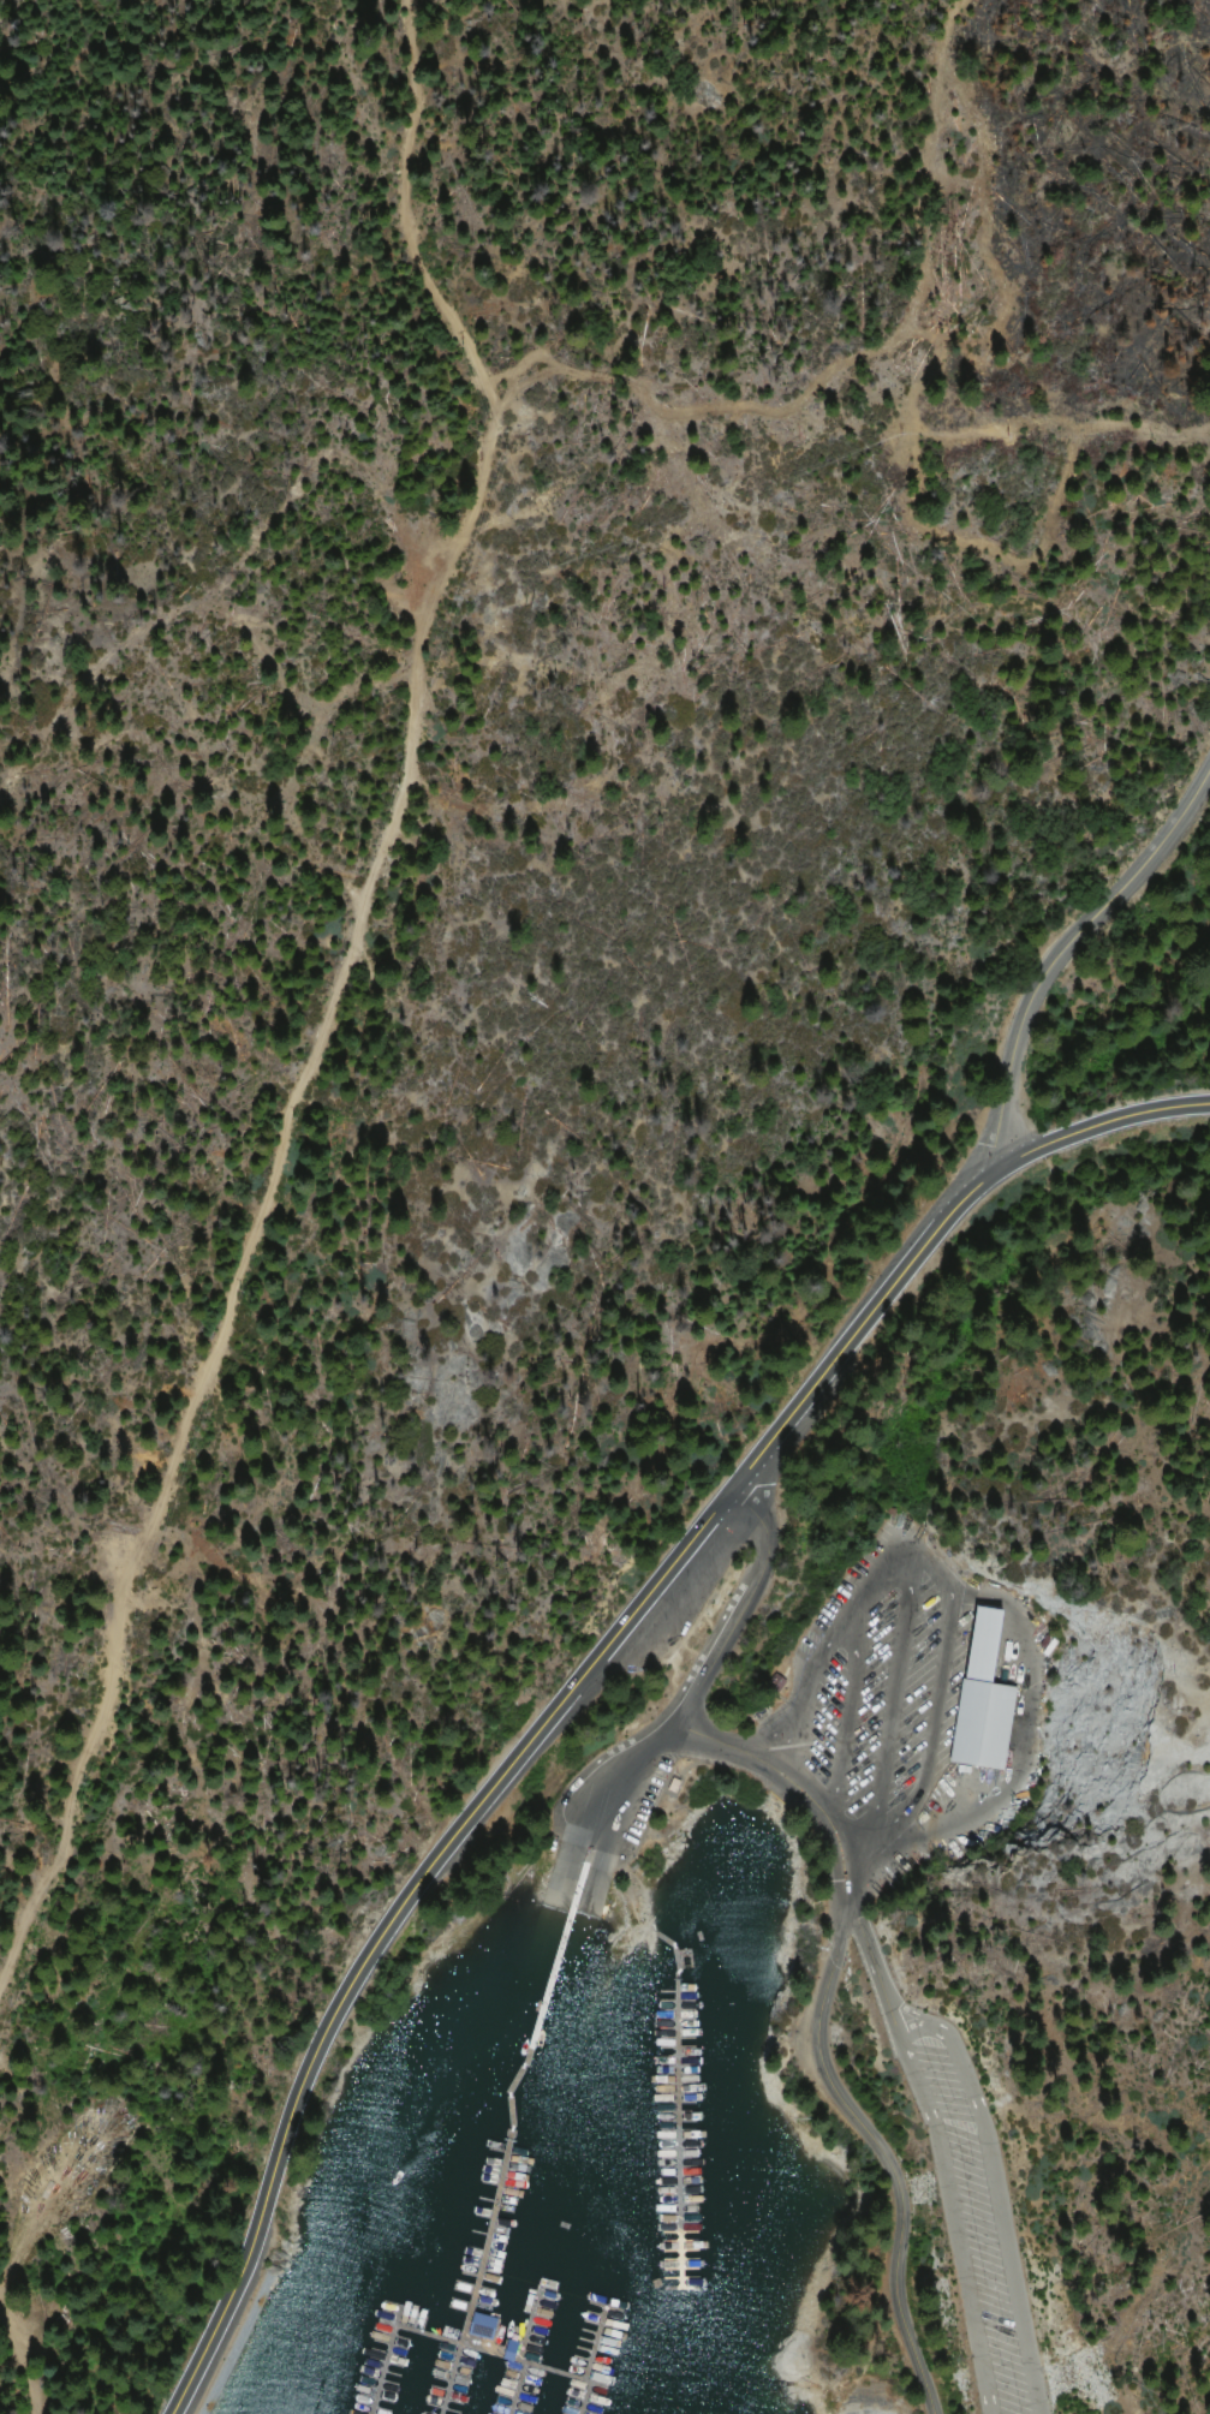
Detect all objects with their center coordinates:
road: (1065, 953)
road: (324, 1017)
road: (1096, 1125)
road: (940, 1579)
building: (773, 1682)
parking lot: (871, 1687)
building: (980, 1700)
road: (513, 1756)
building: (670, 1784)
road: (604, 1841)
road: (592, 1854)
road: (844, 1906)
road: (864, 1955)
road: (900, 2011)
pier: (499, 2130)
pier: (660, 2168)
parking lot: (976, 2229)
building: (465, 2335)
pier: (508, 2335)
pier: (577, 2349)
pier: (434, 2352)
pier: (501, 2391)
pier: (566, 2400)

